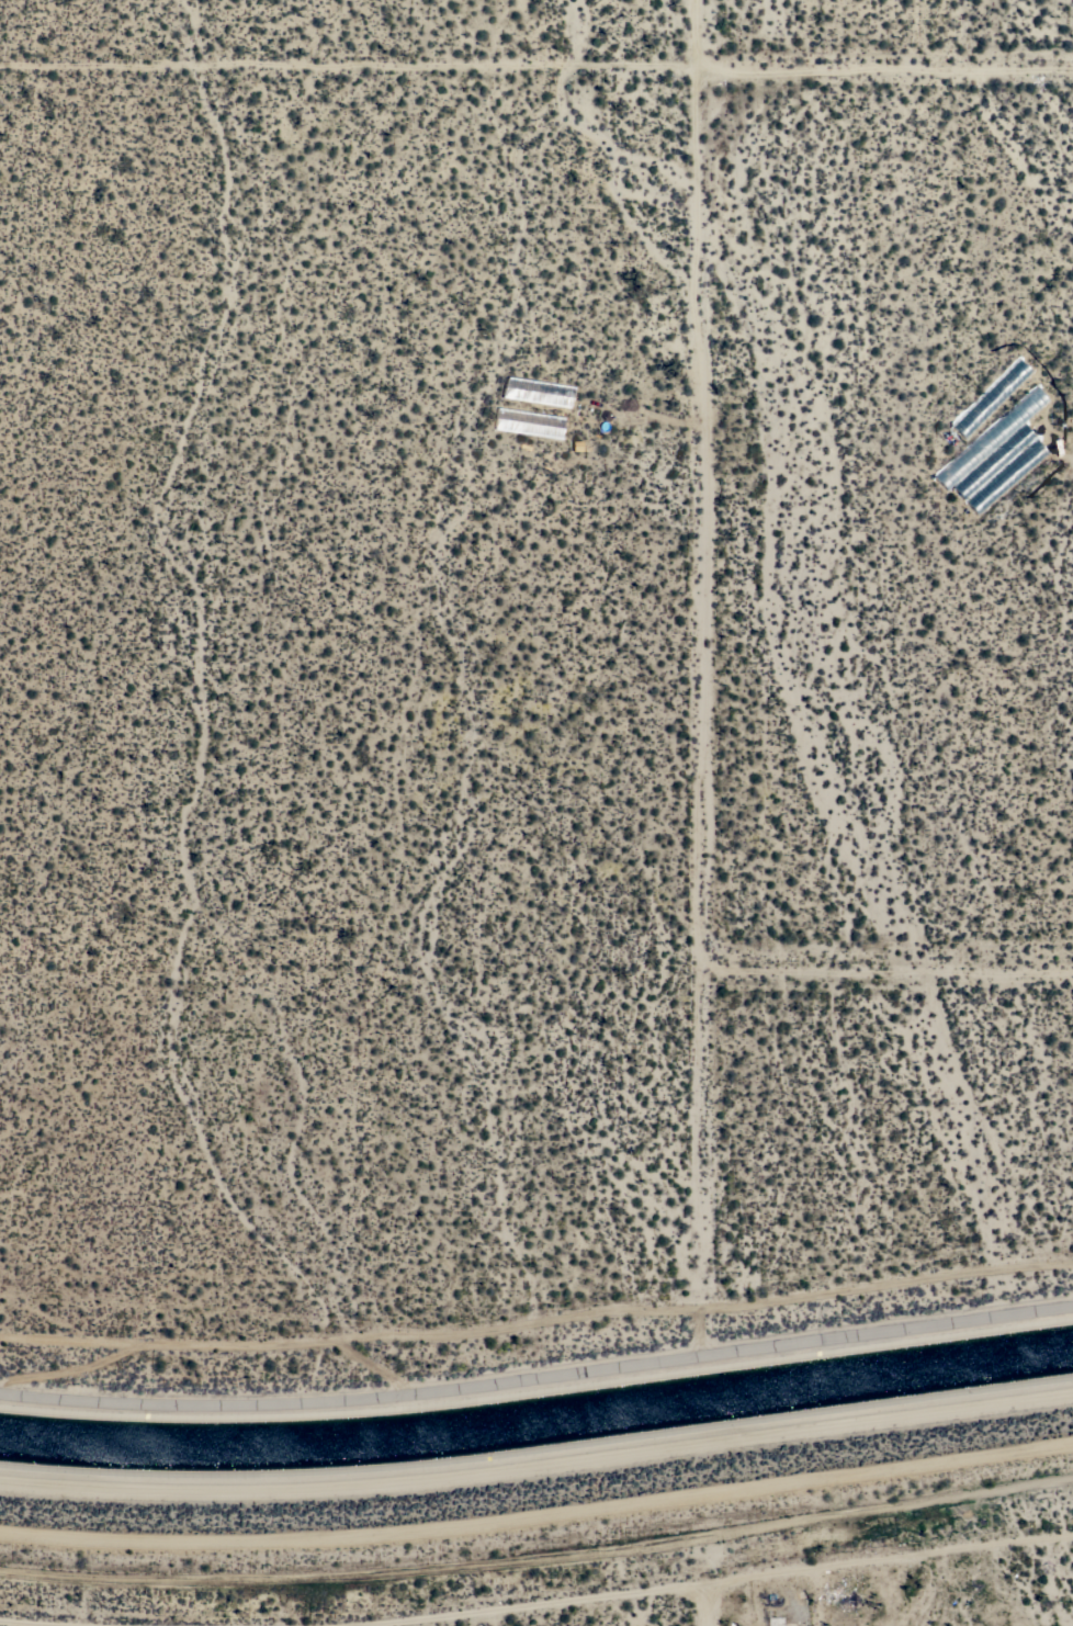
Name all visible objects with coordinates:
road: (536, 69)
road: (699, 653)
road: (885, 969)
road: (538, 1322)
road: (700, 1582)
road: (702, 1604)
building: (843, 1619)
building: (775, 1621)
road: (41, 1622)

